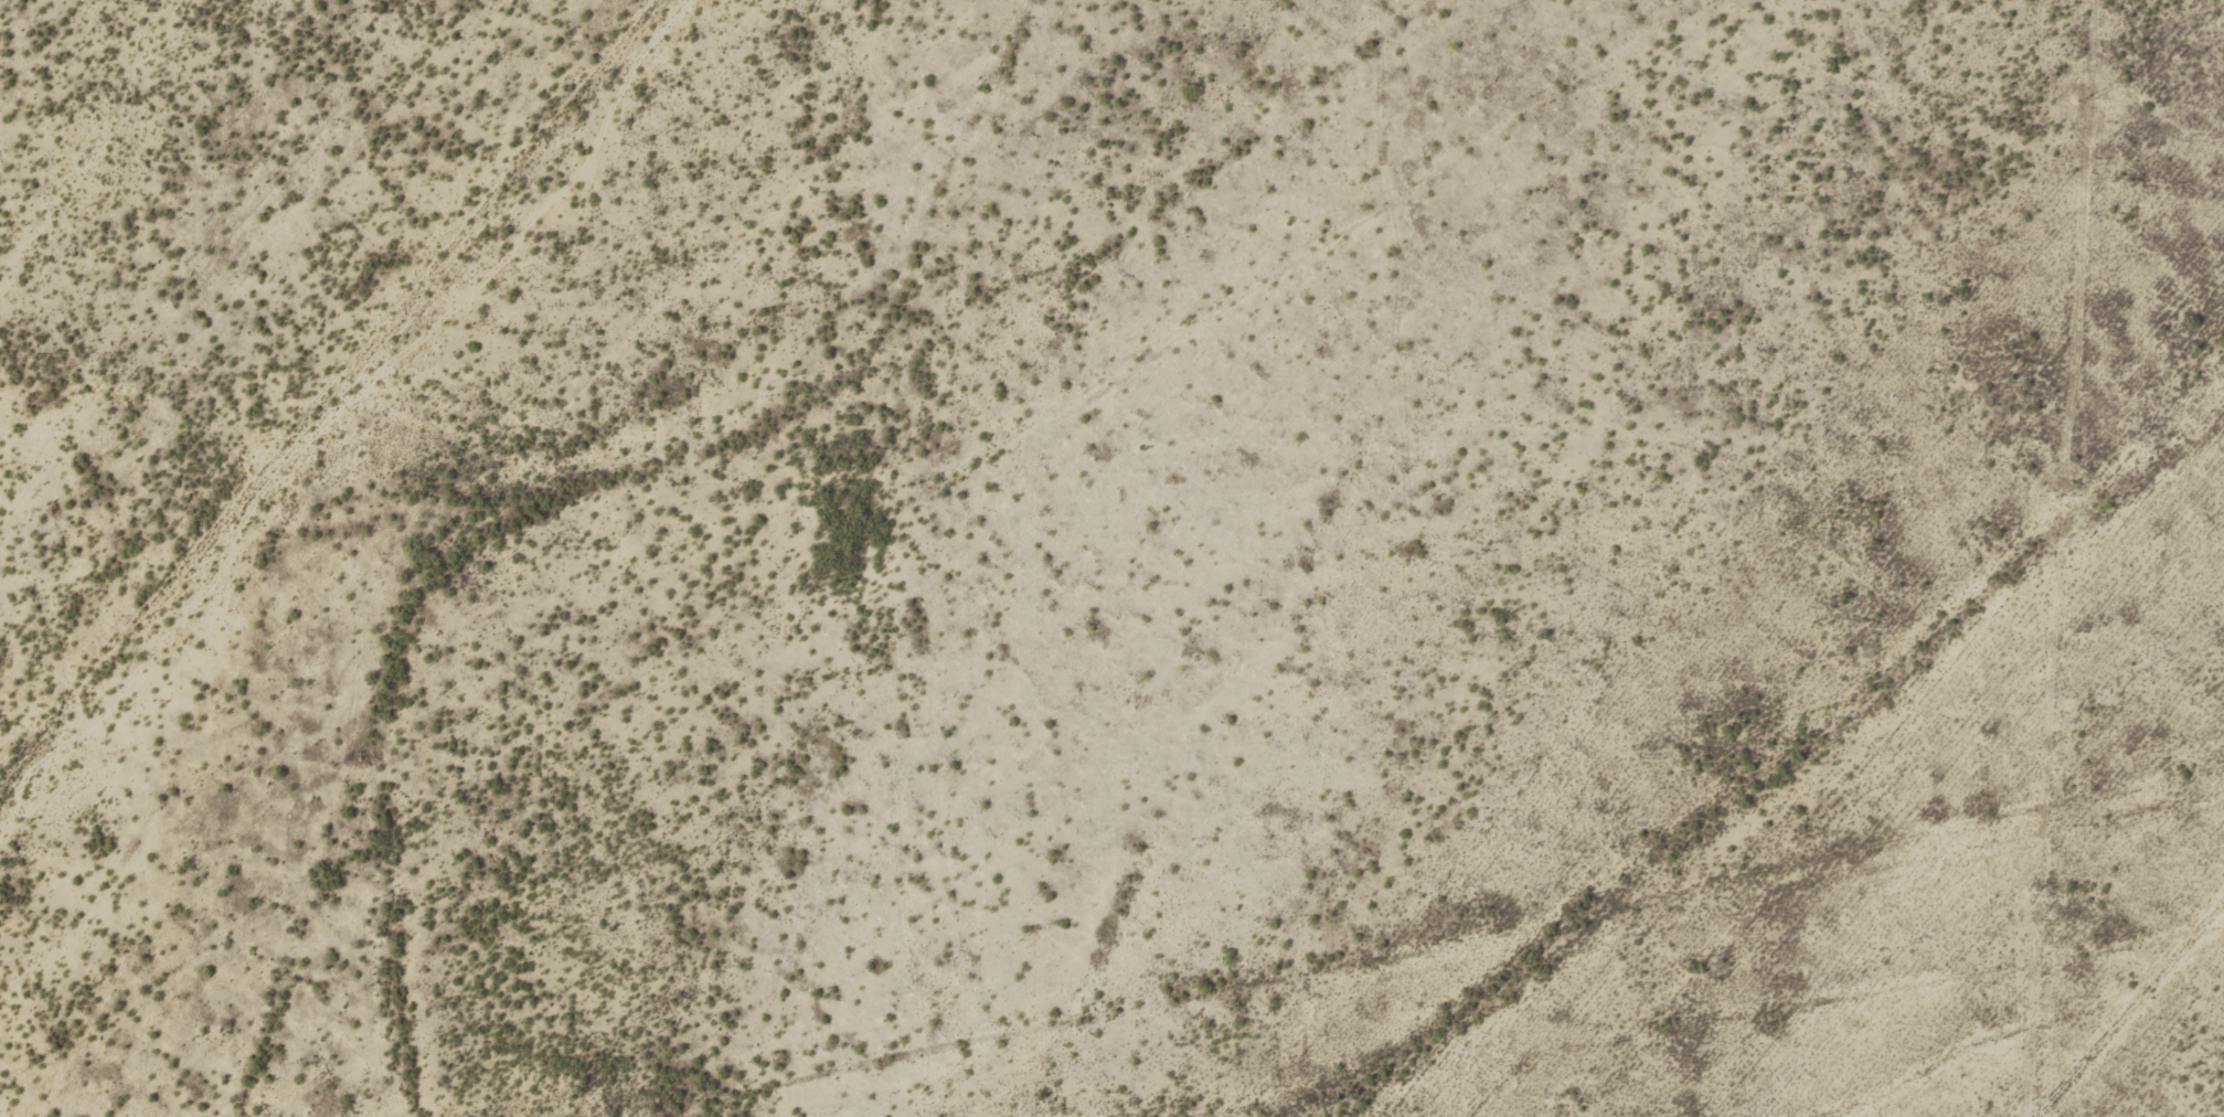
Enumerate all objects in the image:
power tower: (2088, 99)
power tower: (2064, 496)
power tower: (2041, 892)

